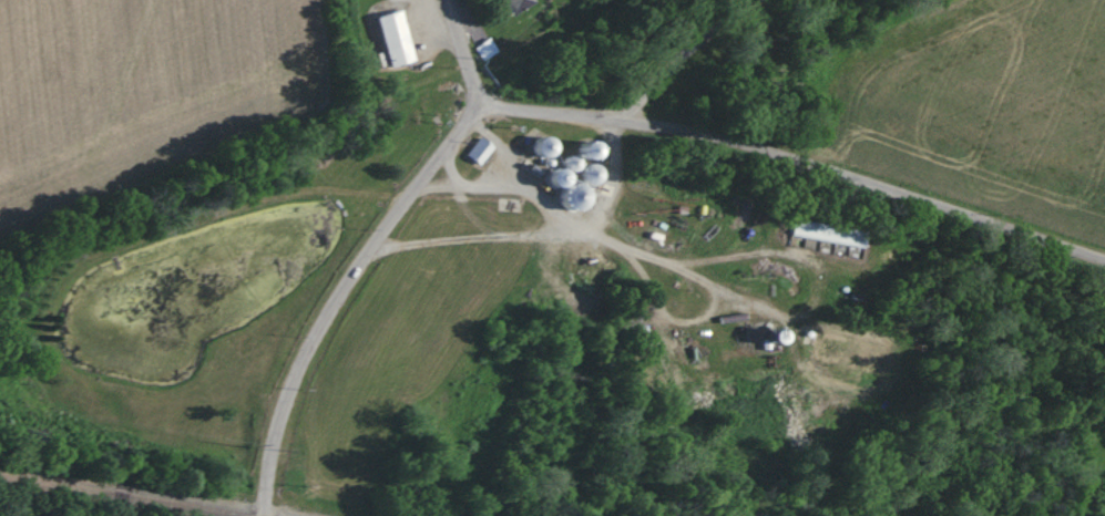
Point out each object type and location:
building: (510, 4)
building: (390, 39)
road: (689, 48)
building: (485, 49)
road: (499, 144)
road: (795, 146)
building: (477, 152)
road: (450, 168)
road: (612, 174)
road: (500, 186)
road: (549, 236)
building: (837, 236)
road: (367, 250)
railway: (124, 495)

